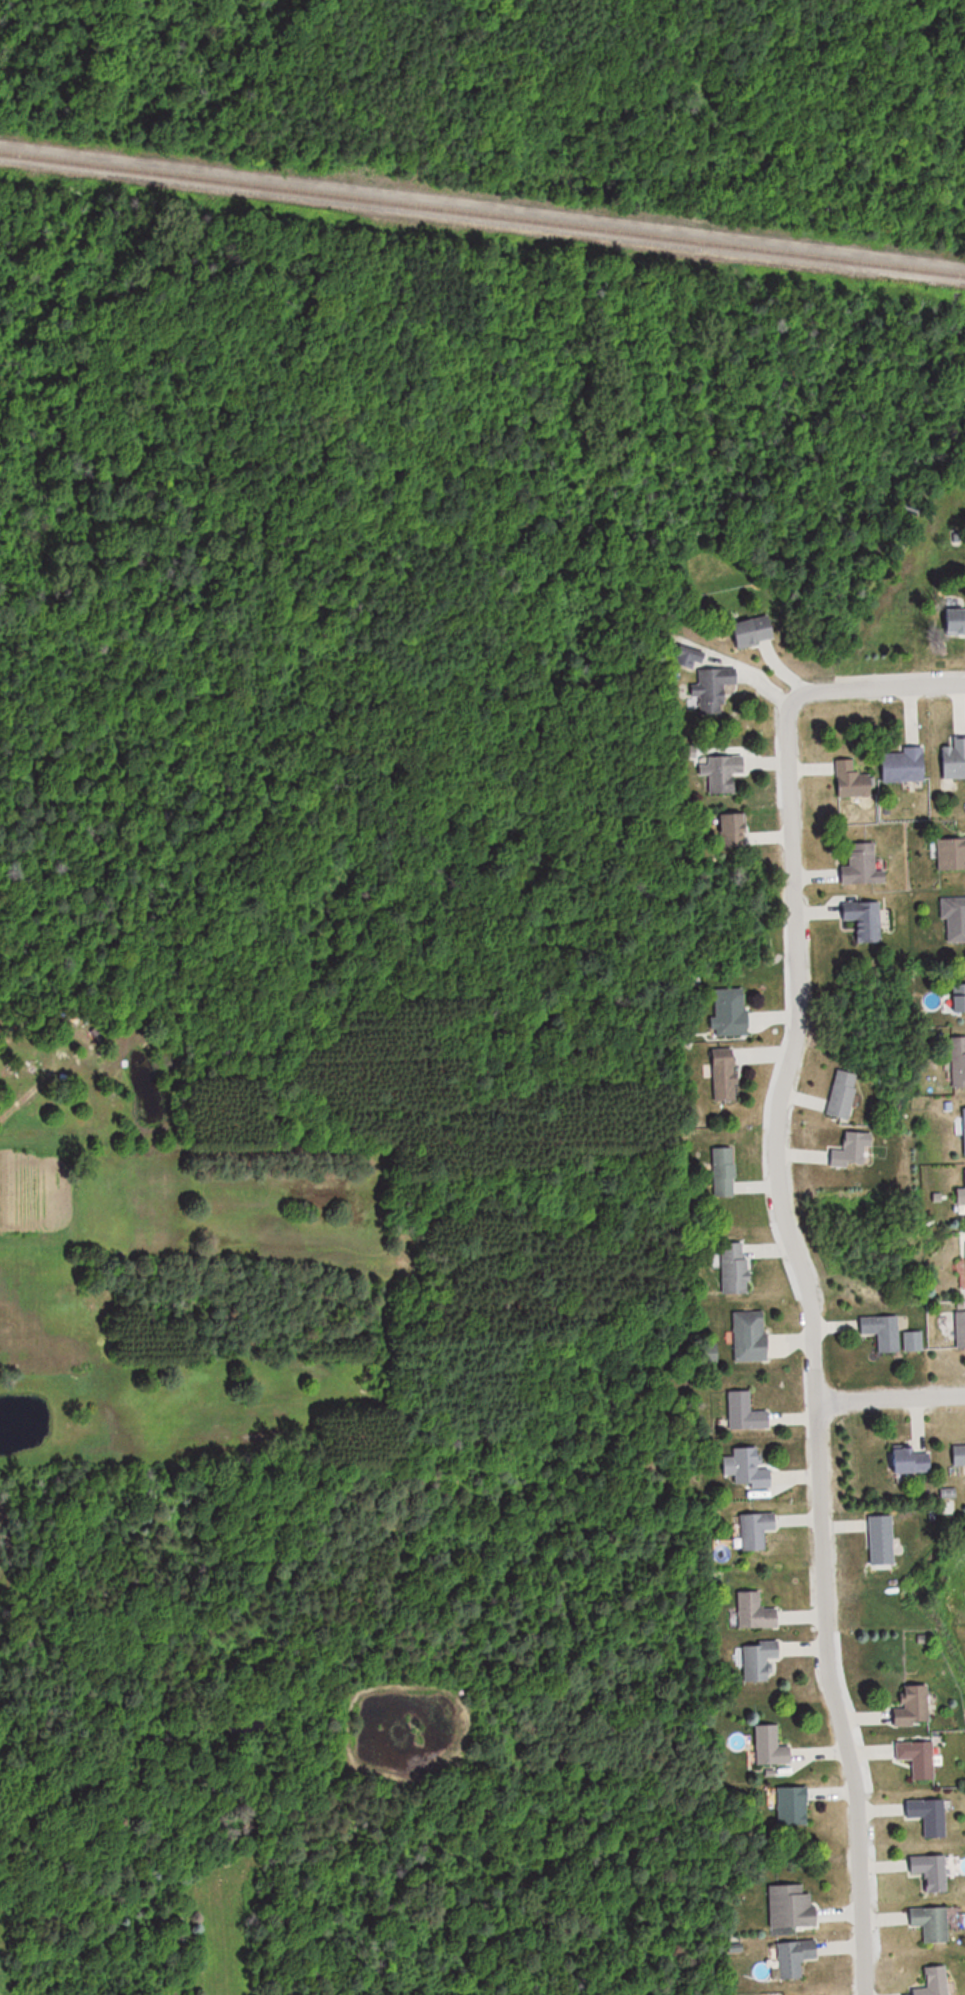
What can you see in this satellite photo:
railway: (482, 214)
park: (418, 447)
building: (956, 620)
building: (755, 630)
road: (877, 689)
building: (725, 691)
building: (954, 758)
building: (904, 764)
building: (724, 772)
building: (853, 779)
building: (735, 830)
building: (952, 854)
building: (863, 866)
building: (954, 916)
building: (865, 920)
building: (959, 997)
building: (731, 1011)
building: (959, 1061)
building: (726, 1075)
road: (34, 1087)
building: (842, 1094)
building: (853, 1150)
building: (724, 1172)
building: (735, 1268)
building: (962, 1329)
building: (884, 1332)
building: (751, 1336)
building: (914, 1342)
road: (813, 1345)
road: (890, 1398)
building: (746, 1413)
building: (959, 1454)
building: (913, 1461)
building: (752, 1469)
building: (758, 1530)
building: (883, 1540)
building: (757, 1612)
building: (760, 1660)
building: (915, 1707)
building: (772, 1747)
building: (919, 1758)
building: (794, 1806)
building: (930, 1816)
building: (932, 1872)
building: (793, 1906)
building: (933, 1924)
building: (797, 1958)
building: (934, 1982)

